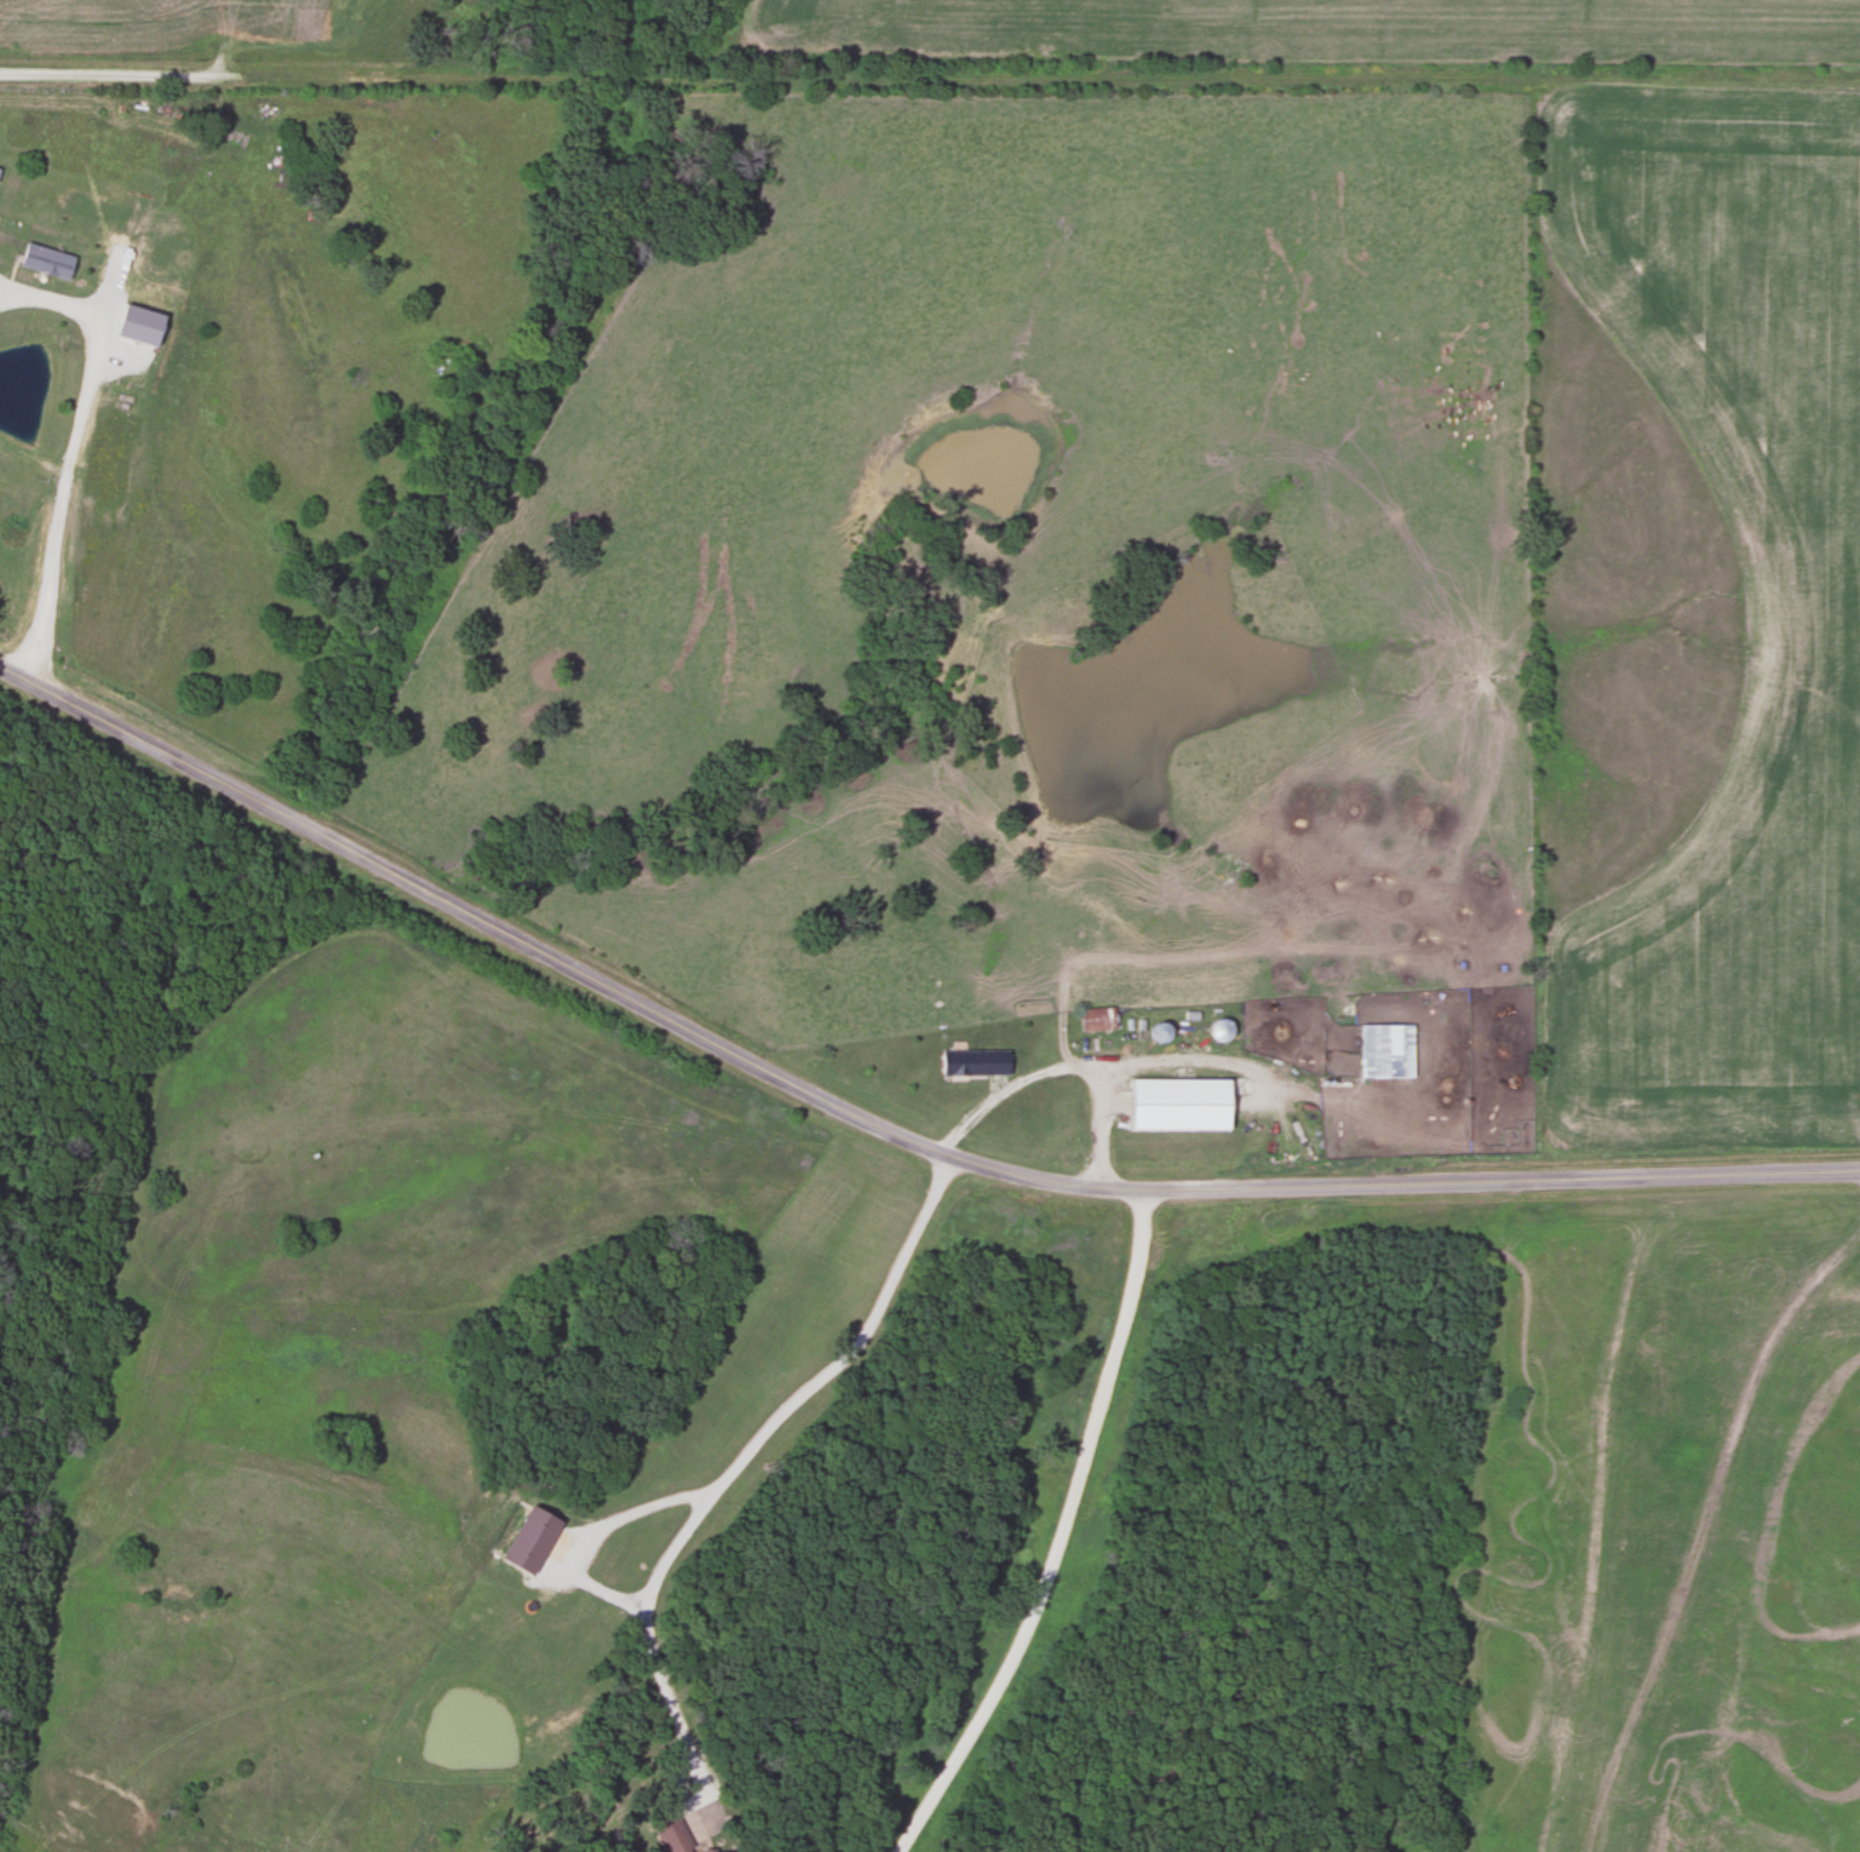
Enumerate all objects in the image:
road: (929, 82)
building: (44, 266)
road: (74, 451)
building: (1096, 1019)
building: (1385, 1050)
building: (972, 1062)
road: (1060, 1072)
road: (878, 1125)
road: (736, 1457)
road: (1061, 1535)
building: (530, 1538)
building: (672, 1836)

